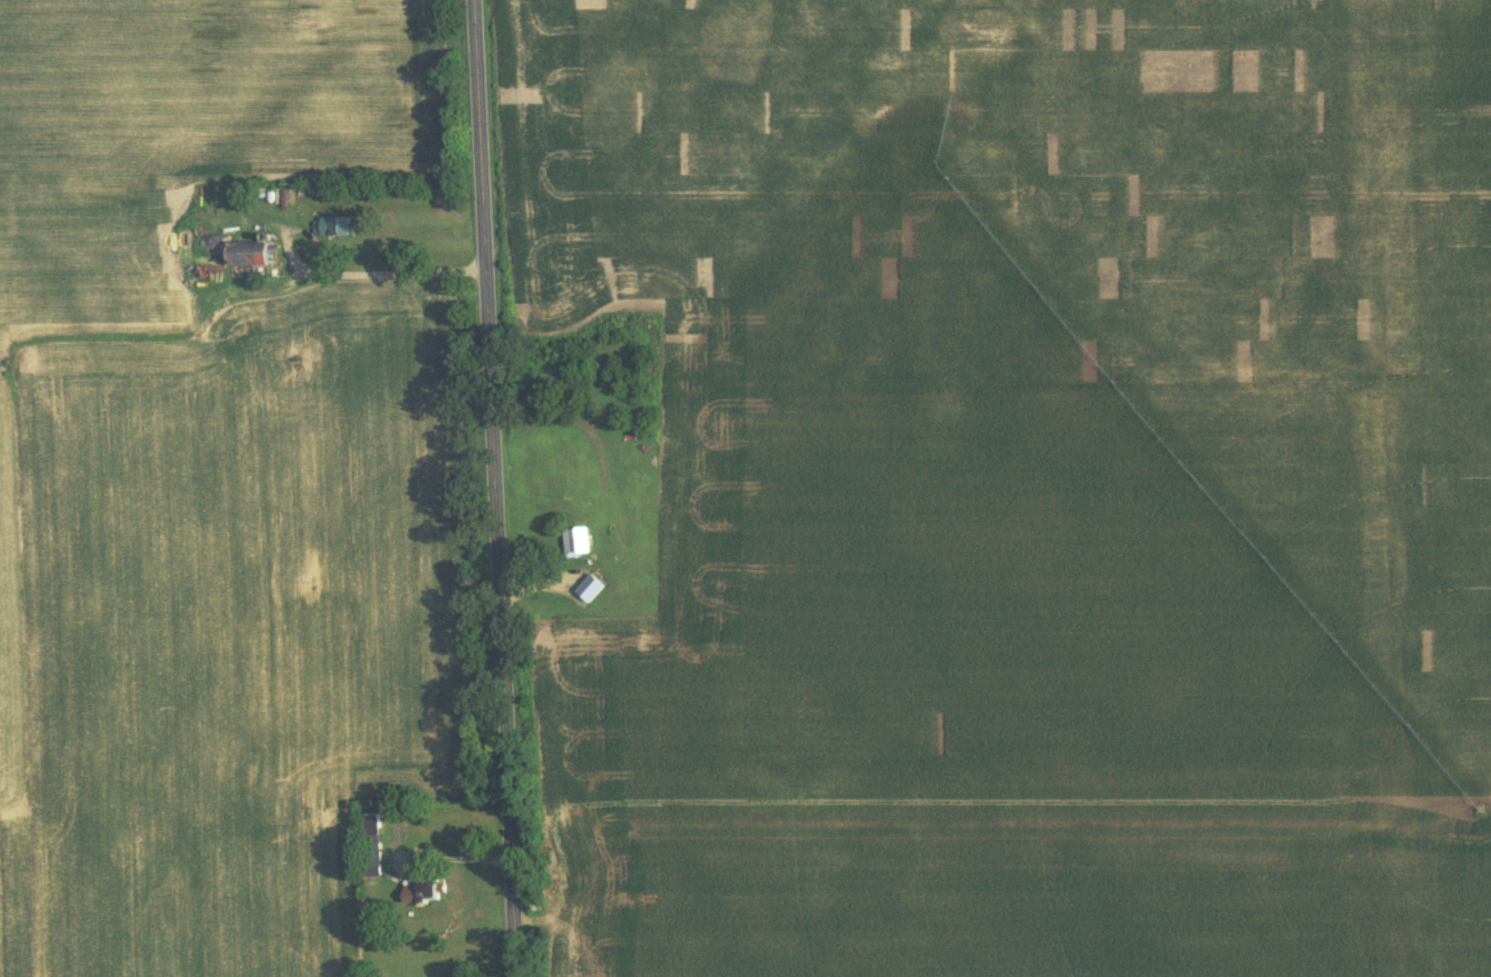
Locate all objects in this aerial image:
building: (331, 229)
building: (231, 255)
road: (374, 269)
building: (610, 418)
road: (498, 488)
building: (577, 543)
building: (370, 849)
building: (422, 895)

